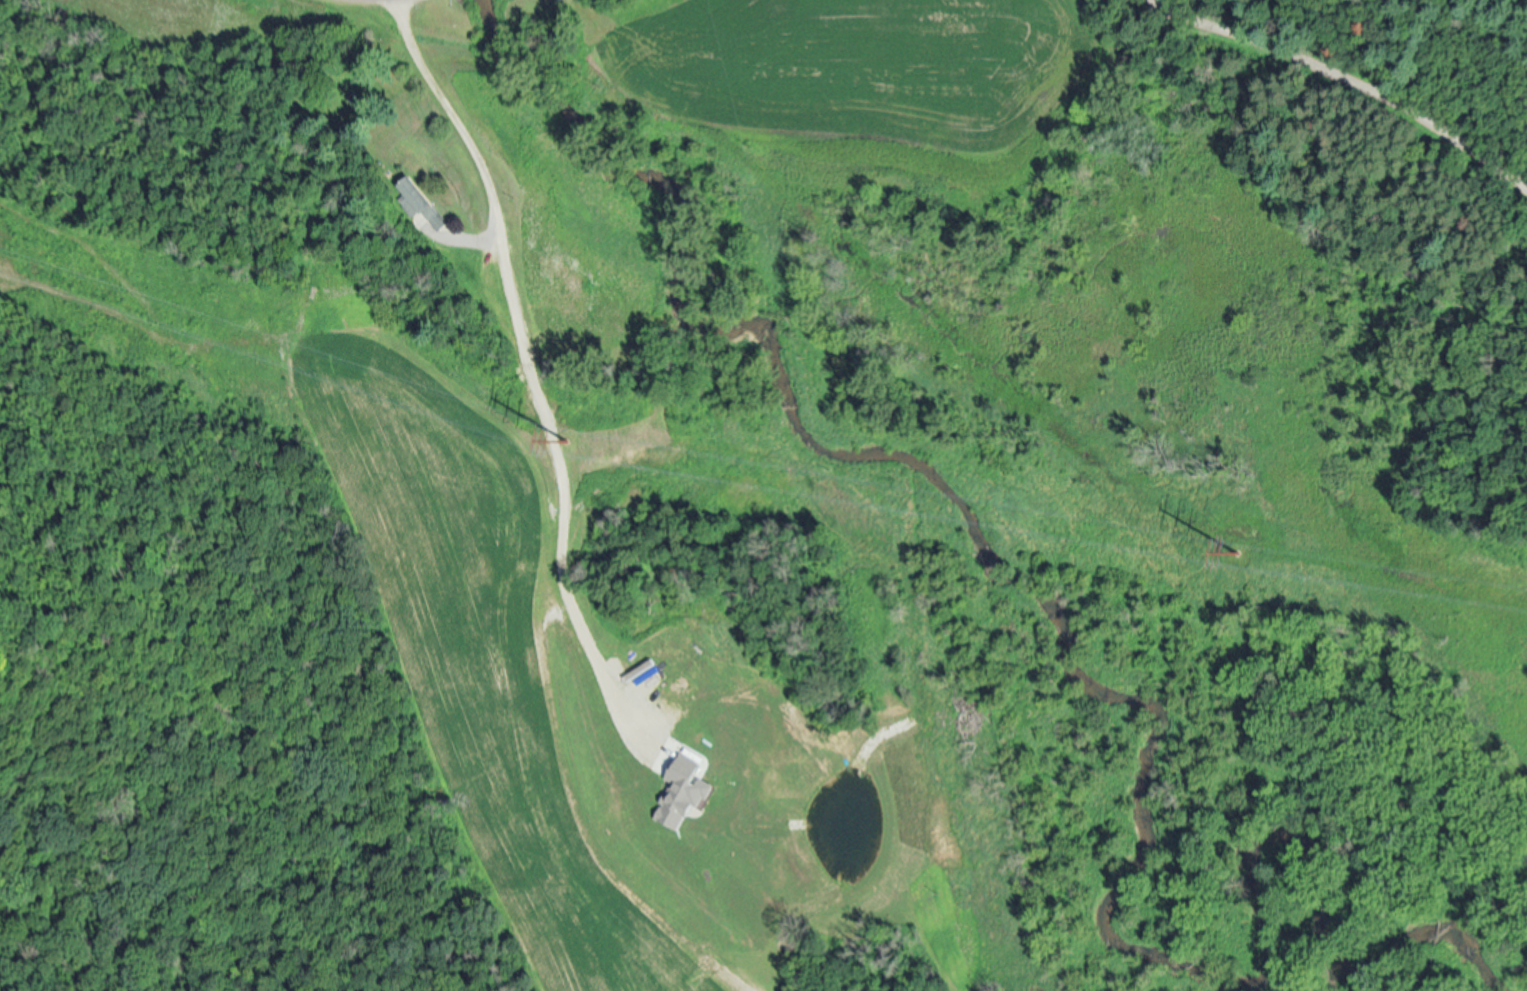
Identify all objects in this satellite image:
road: (1346, 77)
building: (420, 201)
building: (535, 309)
road: (518, 374)
power tower: (565, 429)
power tower: (1238, 547)

